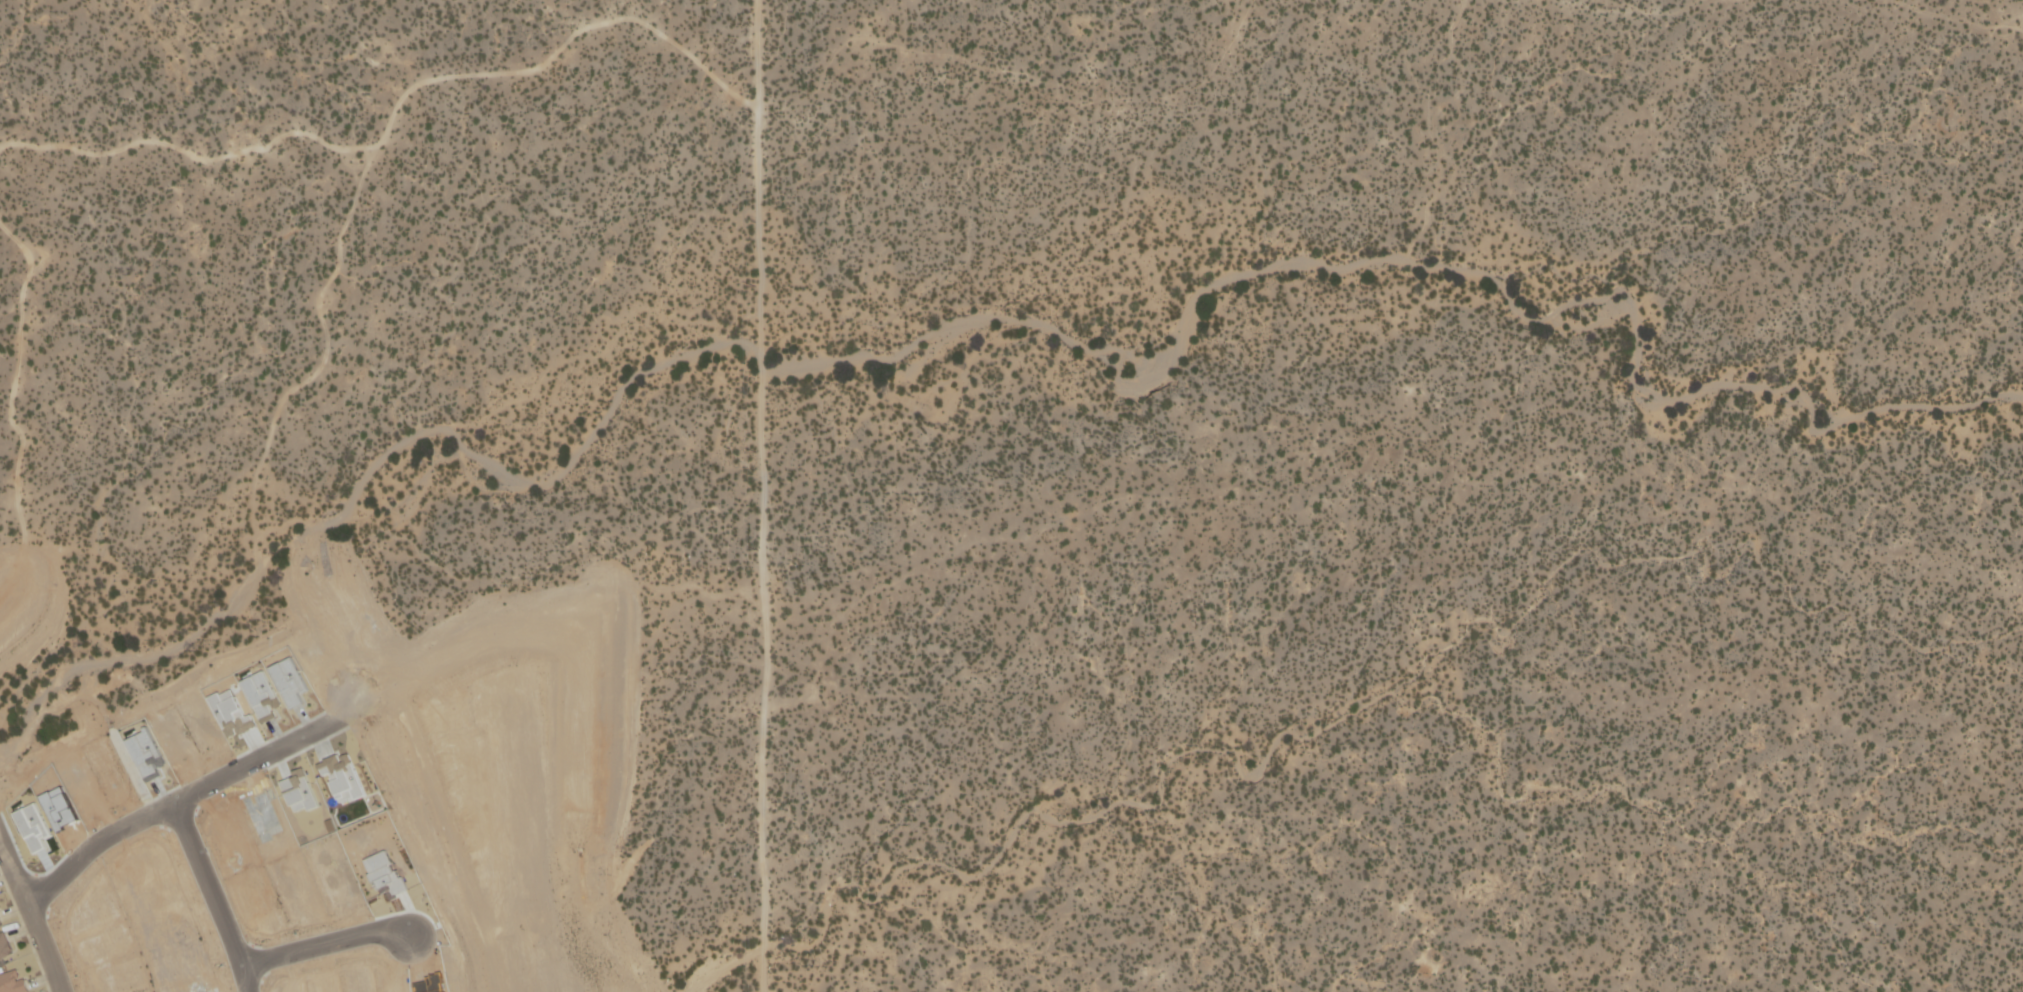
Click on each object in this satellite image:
road: (760, 496)
road: (181, 790)
street lamp: (5, 890)
road: (204, 894)
road: (33, 920)
building: (0, 922)
road: (321, 940)
building: (5, 946)
building: (13, 981)
street lamp: (46, 991)

